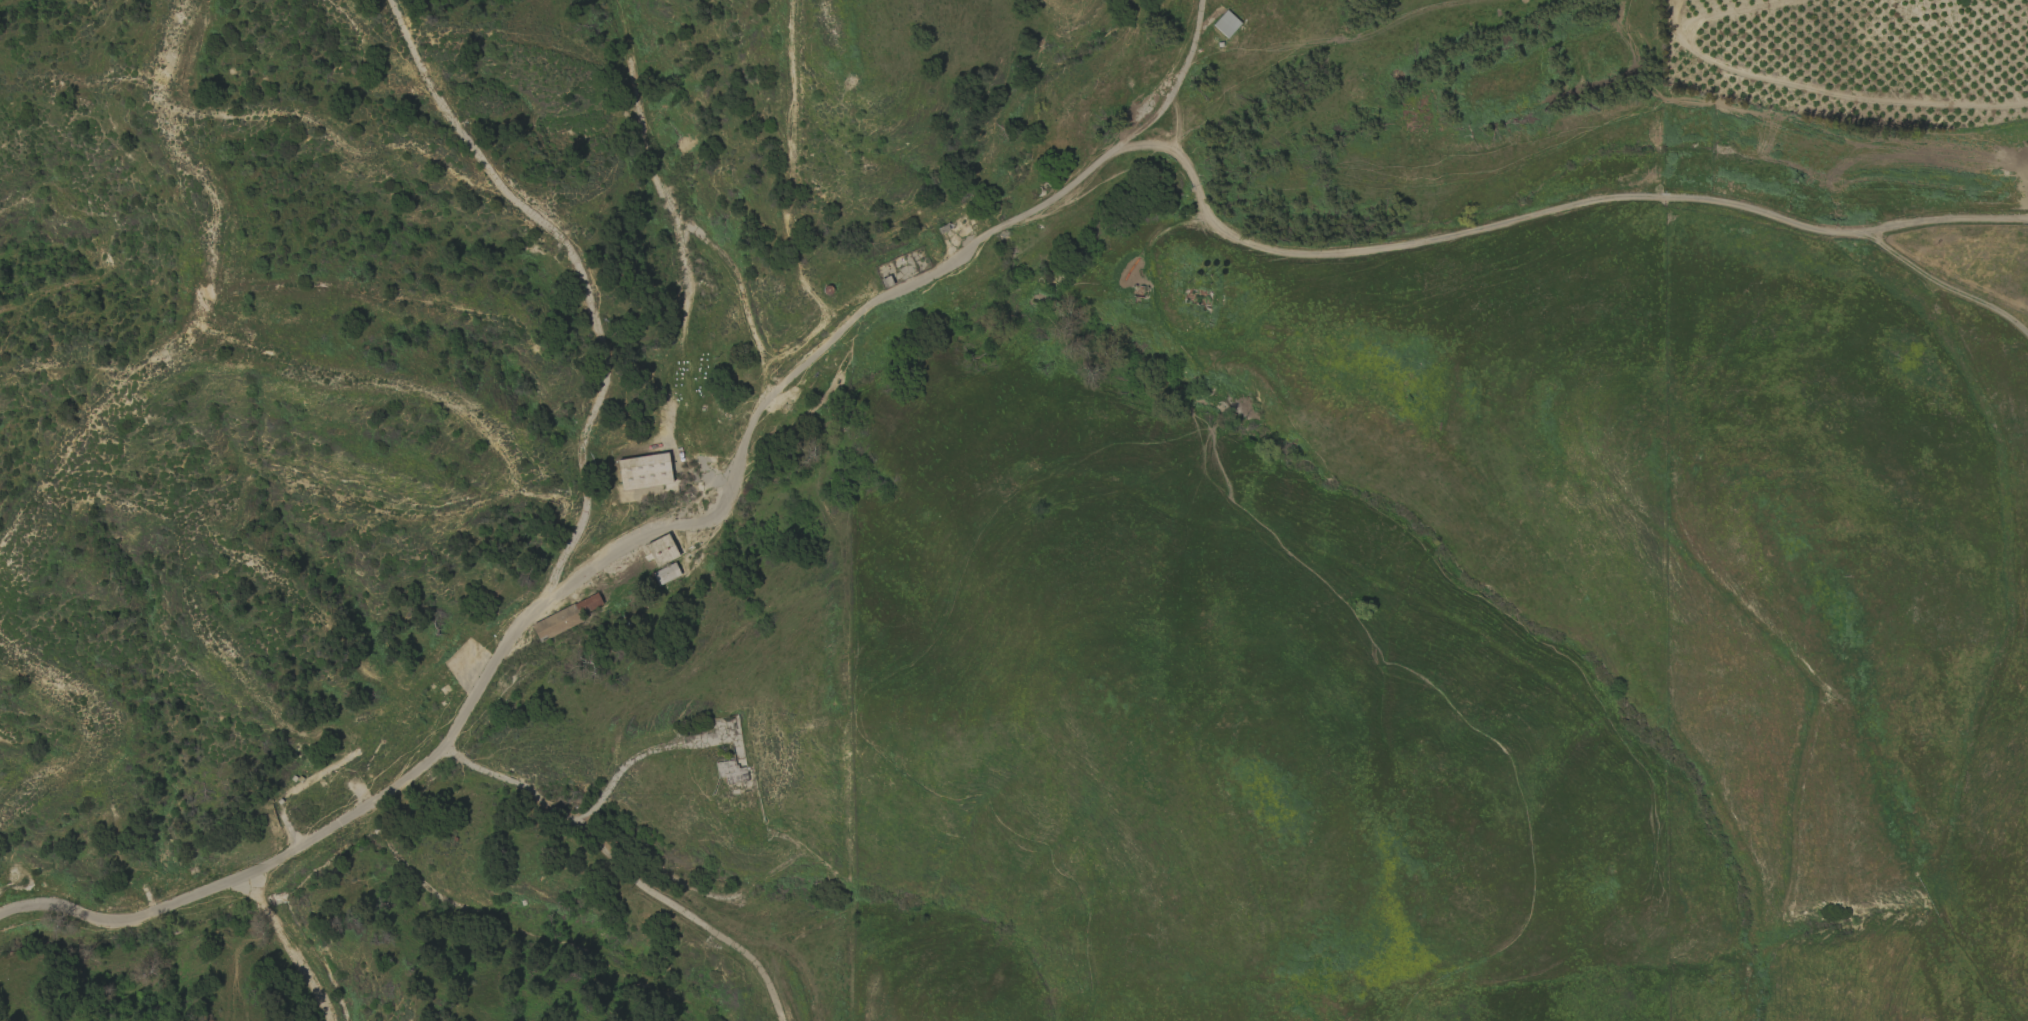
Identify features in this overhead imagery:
road: (1551, 212)
building: (643, 472)
road: (655, 532)
building: (661, 550)
building: (666, 574)
road: (627, 870)
road: (290, 946)

